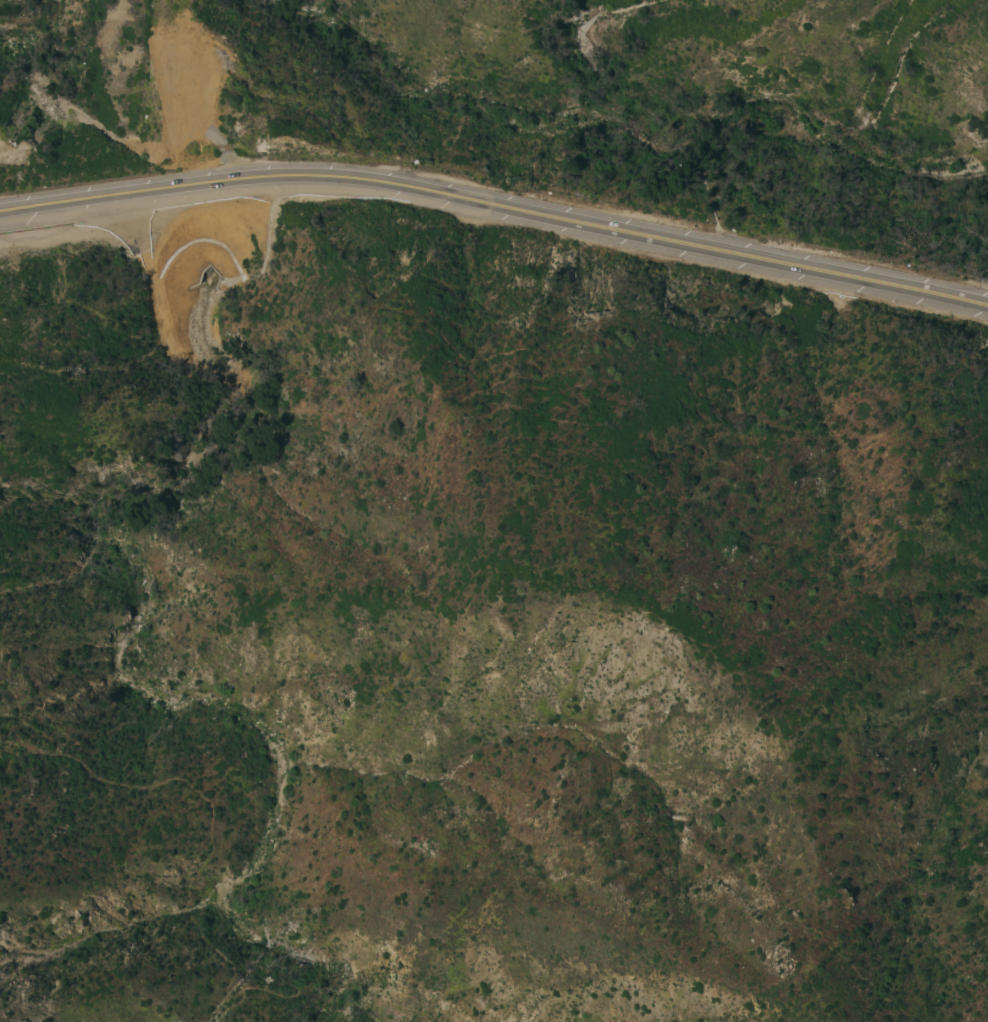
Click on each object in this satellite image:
road: (496, 204)
parking lot: (157, 222)
road: (436, 475)
road: (211, 841)

